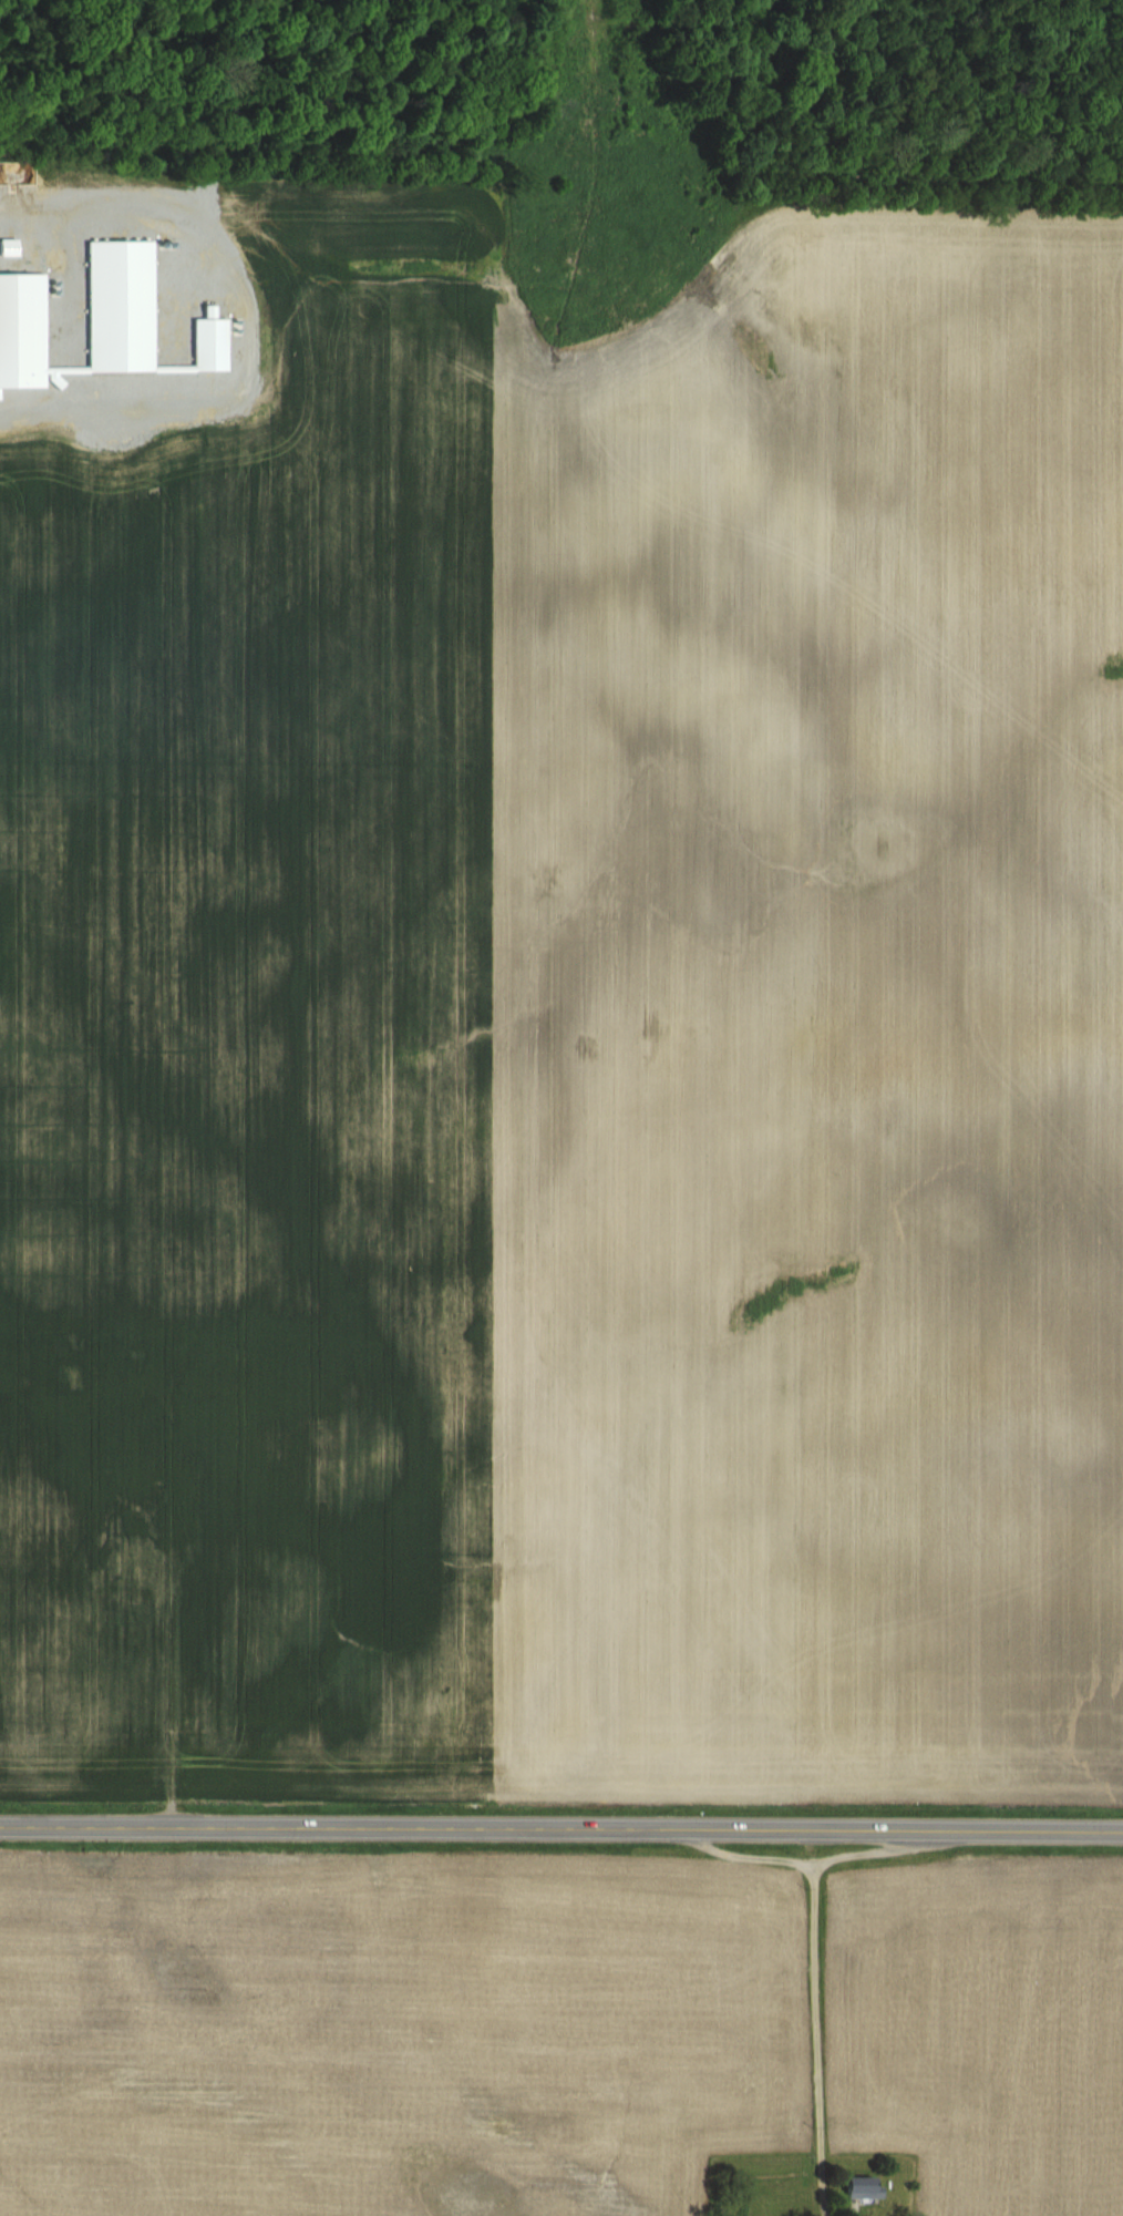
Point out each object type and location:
road: (560, 1828)
road: (813, 2023)
building: (859, 2187)

